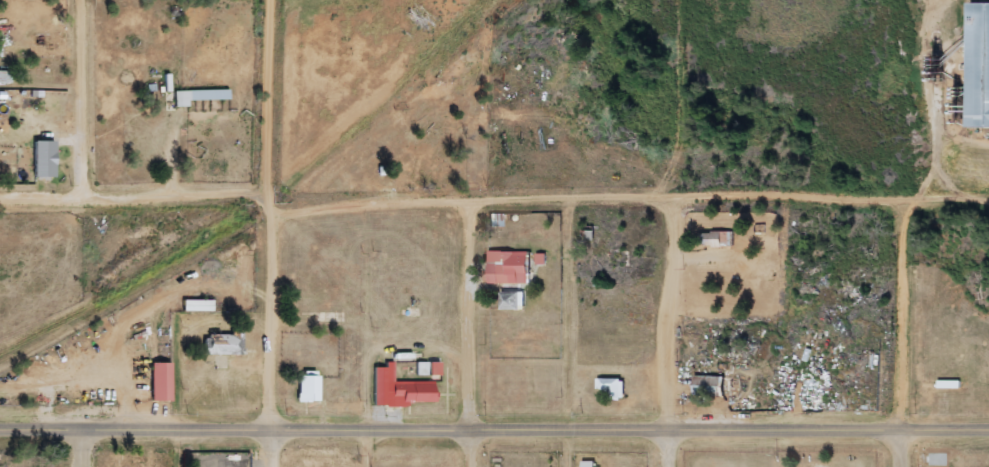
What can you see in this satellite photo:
building: (43, 40)
building: (979, 65)
building: (199, 96)
road: (86, 99)
building: (43, 158)
road: (134, 198)
road: (629, 198)
road: (272, 233)
building: (716, 239)
railway: (199, 250)
building: (540, 259)
building: (507, 268)
building: (512, 299)
building: (197, 305)
road: (904, 332)
road: (471, 333)
road: (673, 333)
building: (224, 344)
building: (428, 369)
building: (161, 382)
building: (713, 386)
building: (307, 388)
building: (612, 388)
building: (399, 389)
road: (494, 431)
road: (83, 449)
building: (588, 464)

